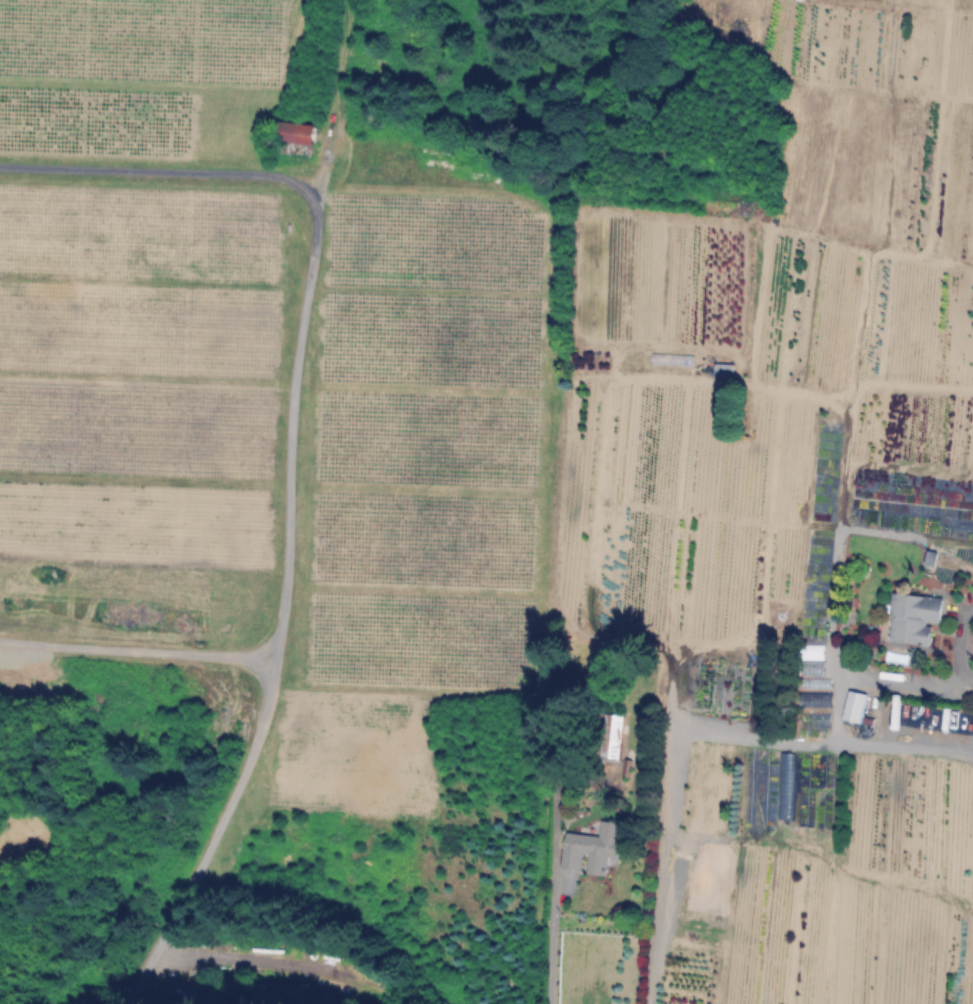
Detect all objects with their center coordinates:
building: (298, 136)
road: (334, 139)
building: (724, 369)
road: (289, 456)
building: (915, 618)
road: (136, 651)
road: (889, 676)
building: (856, 705)
road: (921, 748)
road: (662, 764)
building: (591, 849)
road: (550, 942)

